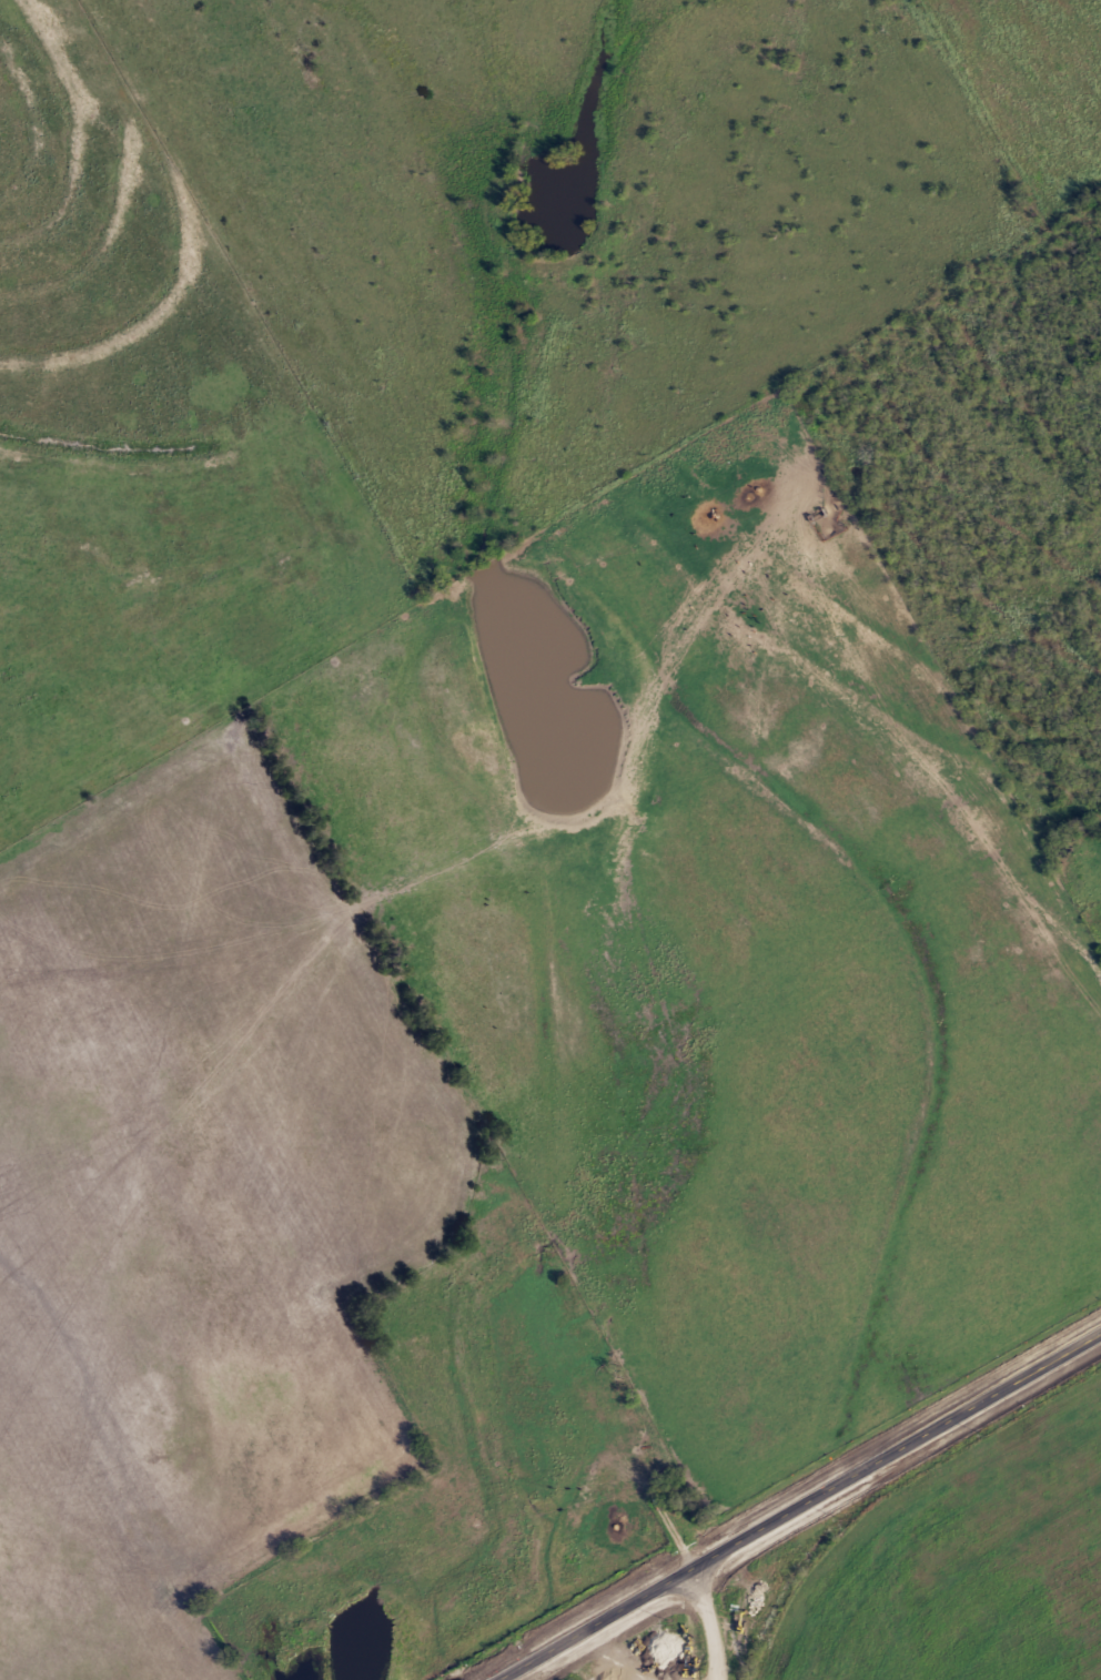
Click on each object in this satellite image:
road: (799, 1505)
road: (673, 1528)
road: (711, 1622)

